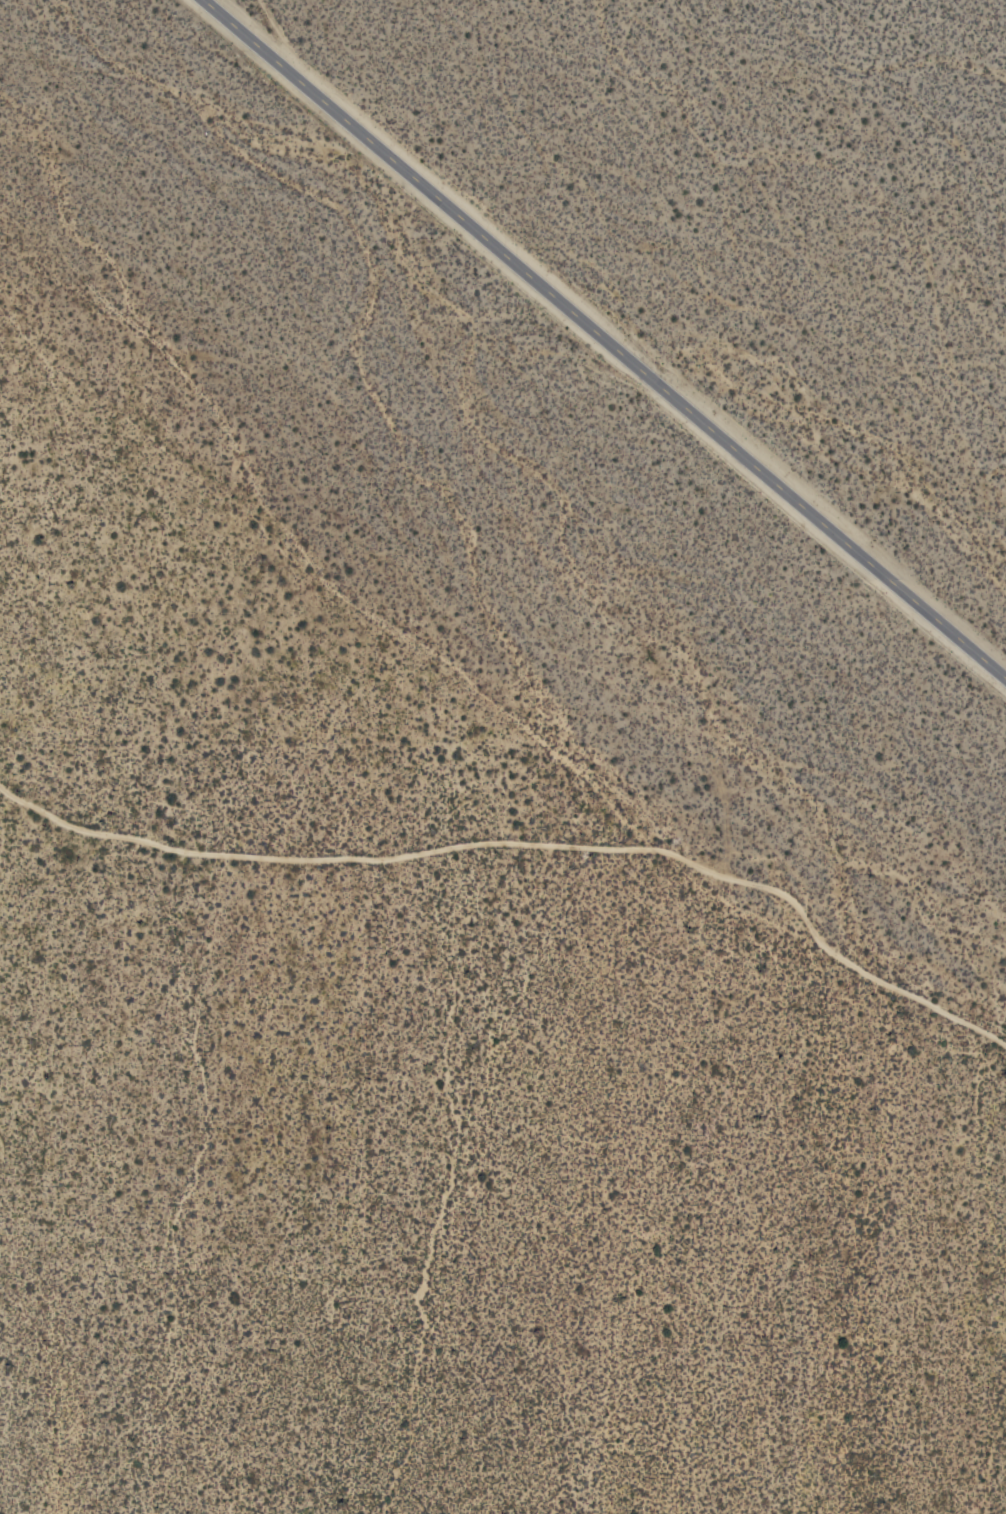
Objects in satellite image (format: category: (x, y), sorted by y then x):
road: (601, 341)
road: (526, 847)

